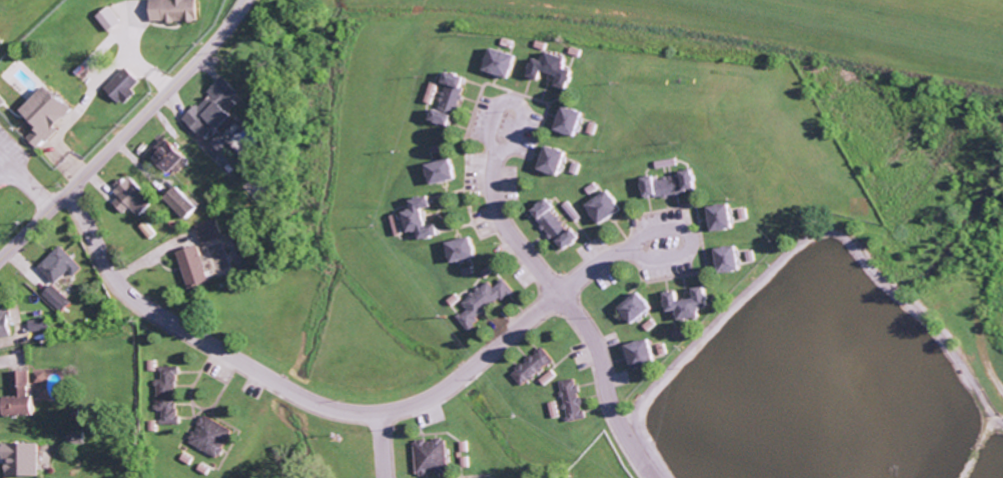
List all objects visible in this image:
building: (177, 10)
building: (110, 19)
building: (506, 62)
building: (558, 69)
building: (125, 86)
building: (452, 97)
building: (2, 101)
building: (219, 107)
building: (46, 115)
building: (576, 120)
road: (127, 131)
building: (174, 157)
building: (558, 160)
building: (448, 171)
building: (675, 183)
building: (134, 198)
building: (187, 202)
building: (610, 207)
building: (725, 217)
building: (421, 219)
building: (560, 226)
building: (212, 230)
building: (468, 249)
building: (733, 259)
building: (61, 265)
building: (199, 266)
building: (57, 298)
building: (486, 302)
building: (693, 303)
building: (641, 308)
road: (569, 310)
building: (6, 322)
building: (40, 325)
building: (646, 354)
building: (534, 367)
building: (549, 377)
park: (818, 384)
building: (27, 392)
building: (170, 397)
building: (574, 398)
road: (330, 403)
building: (213, 436)
road: (382, 444)
building: (432, 457)
building: (24, 459)

